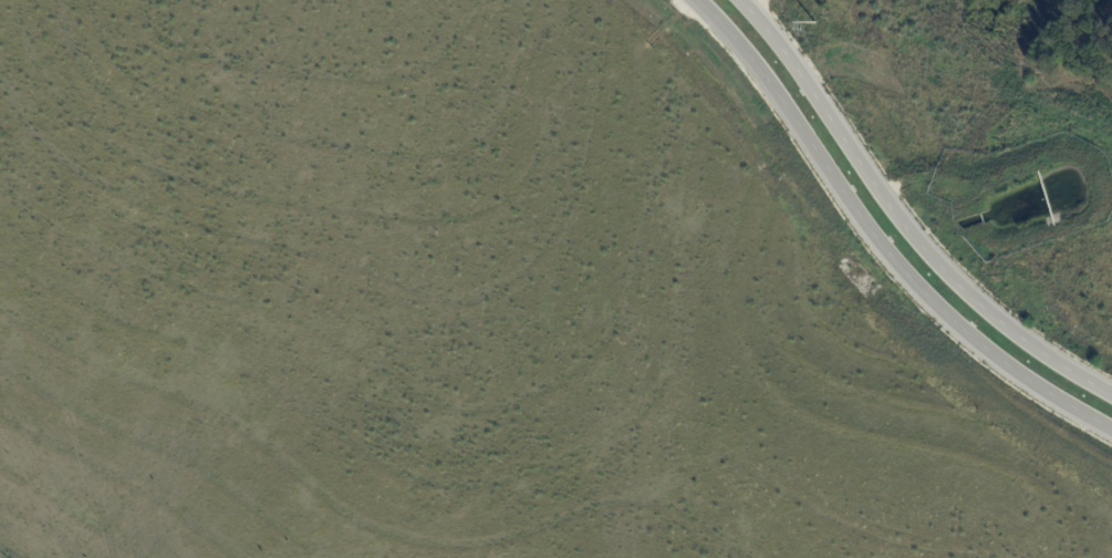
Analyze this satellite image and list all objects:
road: (902, 221)
road: (875, 245)

